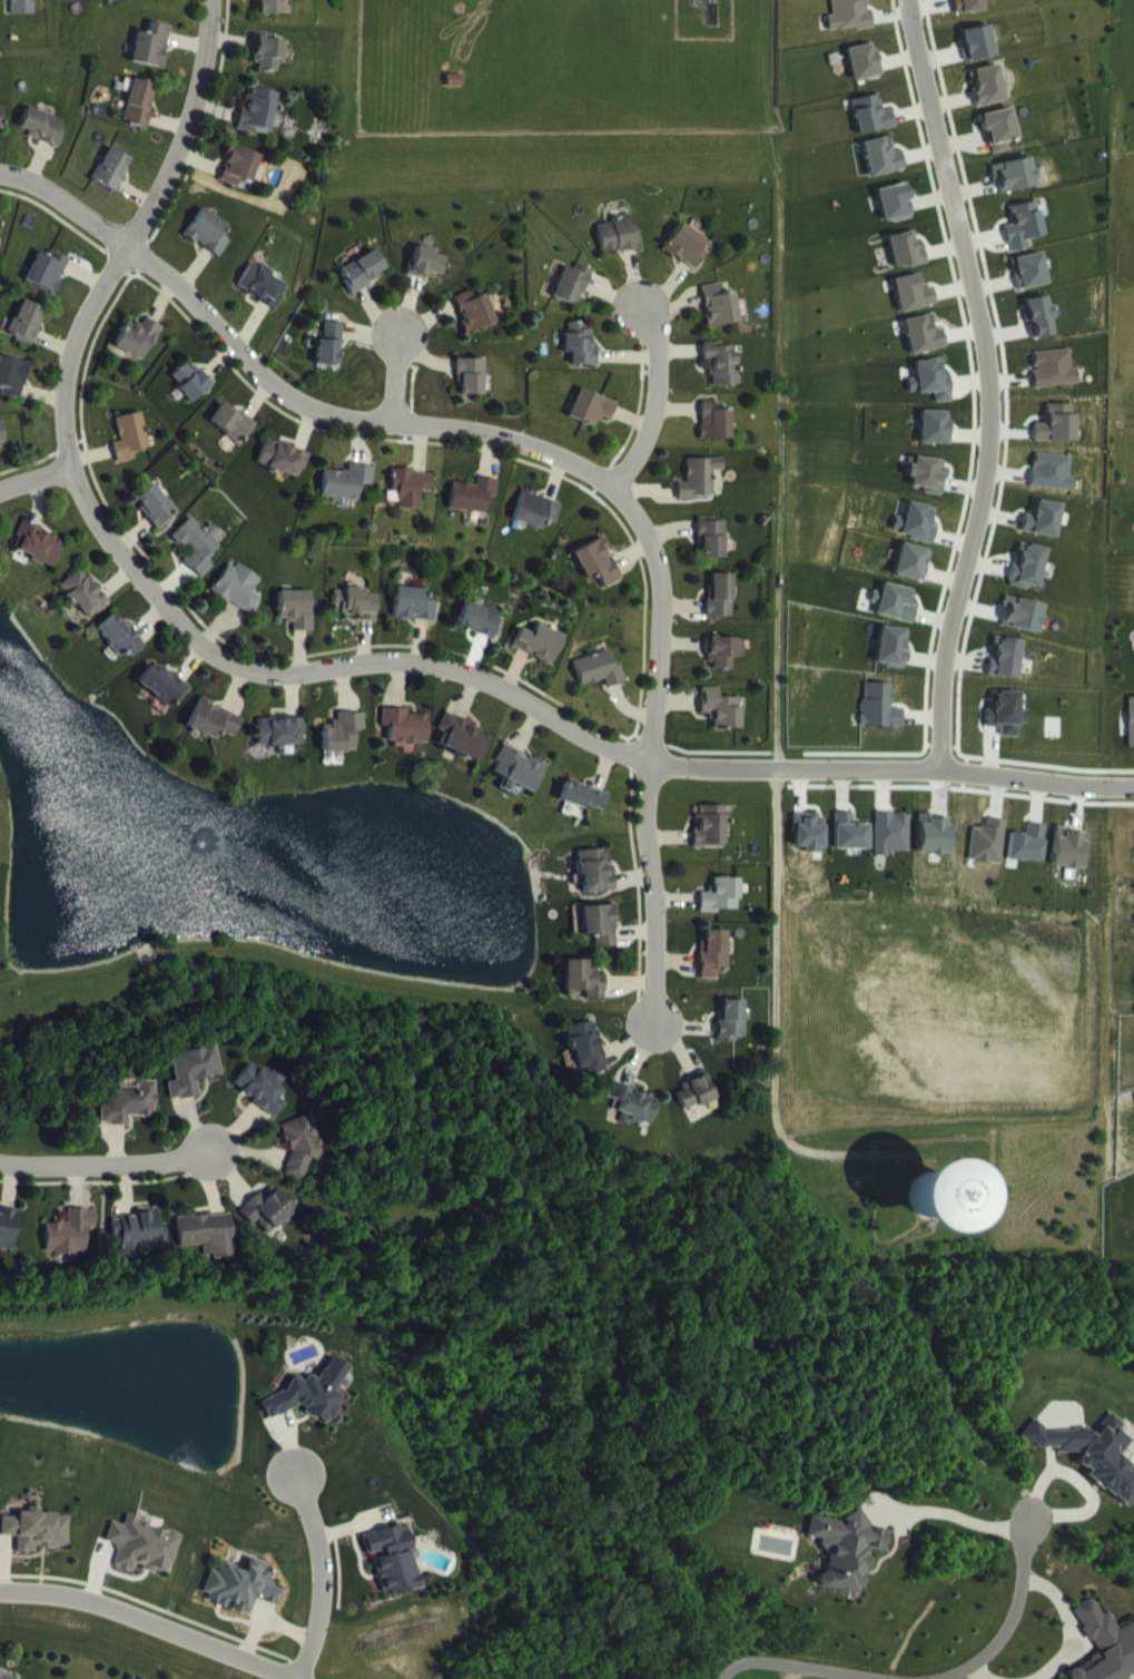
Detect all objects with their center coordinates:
building: (80, 2)
building: (23, 12)
building: (968, 13)
building: (269, 16)
building: (850, 27)
building: (978, 58)
building: (151, 60)
building: (268, 68)
building: (865, 77)
building: (986, 100)
building: (139, 118)
road: (935, 120)
building: (260, 126)
building: (871, 130)
building: (0, 134)
building: (43, 141)
building: (999, 144)
building: (882, 171)
building: (239, 181)
building: (112, 184)
building: (1014, 189)
building: (894, 217)
road: (139, 232)
building: (1023, 240)
building: (0, 246)
building: (208, 247)
building: (617, 251)
building: (686, 261)
building: (905, 265)
building: (427, 278)
building: (48, 286)
building: (363, 286)
building: (1029, 286)
building: (571, 300)
building: (263, 301)
building: (913, 308)
building: (718, 321)
building: (474, 326)
building: (1038, 331)
building: (28, 337)
building: (923, 350)
building: (138, 353)
building: (331, 360)
building: (580, 360)
road: (396, 374)
building: (721, 377)
building: (1053, 384)
building: (12, 392)
building: (471, 392)
road: (652, 393)
building: (930, 395)
building: (190, 396)
building: (590, 423)
building: (714, 436)
building: (233, 438)
building: (1056, 439)
building: (935, 442)
building: (2, 448)
road: (544, 448)
building: (130, 452)
building: (285, 473)
road: (36, 478)
building: (698, 492)
building: (347, 497)
building: (411, 502)
road: (978, 505)
building: (473, 510)
building: (156, 521)
building: (536, 526)
building: (1043, 534)
building: (916, 538)
building: (711, 553)
building: (38, 560)
building: (198, 561)
building: (911, 577)
building: (596, 578)
building: (1028, 581)
building: (239, 603)
building: (85, 609)
building: (720, 611)
building: (357, 619)
building: (414, 620)
building: (297, 625)
building: (1022, 629)
building: (480, 634)
building: (120, 651)
building: (539, 658)
building: (893, 661)
road: (377, 665)
building: (721, 667)
building: (1005, 672)
building: (599, 685)
building: (162, 700)
building: (880, 723)
building: (721, 724)
building: (1005, 728)
building: (214, 735)
building: (1131, 737)
building: (405, 742)
building: (282, 747)
building: (343, 748)
building: (464, 753)
road: (925, 770)
building: (519, 784)
road: (1111, 785)
building: (582, 811)
building: (710, 842)
building: (850, 847)
building: (891, 848)
building: (1027, 860)
building: (1068, 863)
building: (595, 885)
building: (721, 911)
building: (600, 939)
building: (713, 969)
building: (584, 994)
building: (732, 1035)
building: (586, 1062)
building: (191, 1086)
building: (260, 1102)
building: (696, 1107)
building: (128, 1118)
building: (634, 1120)
road: (111, 1160)
building: (300, 1161)
water tower: (927, 1195)
building: (933, 1211)
building: (270, 1224)
building: (8, 1244)
building: (140, 1247)
building: (71, 1248)
building: (208, 1249)
building: (310, 1410)
building: (1094, 1469)
road: (951, 1511)
building: (37, 1545)
building: (142, 1561)
building: (846, 1564)
road: (321, 1573)
building: (392, 1574)
building: (241, 1602)
road: (149, 1621)
road: (1004, 1623)
building: (1106, 1650)
road: (801, 1662)

